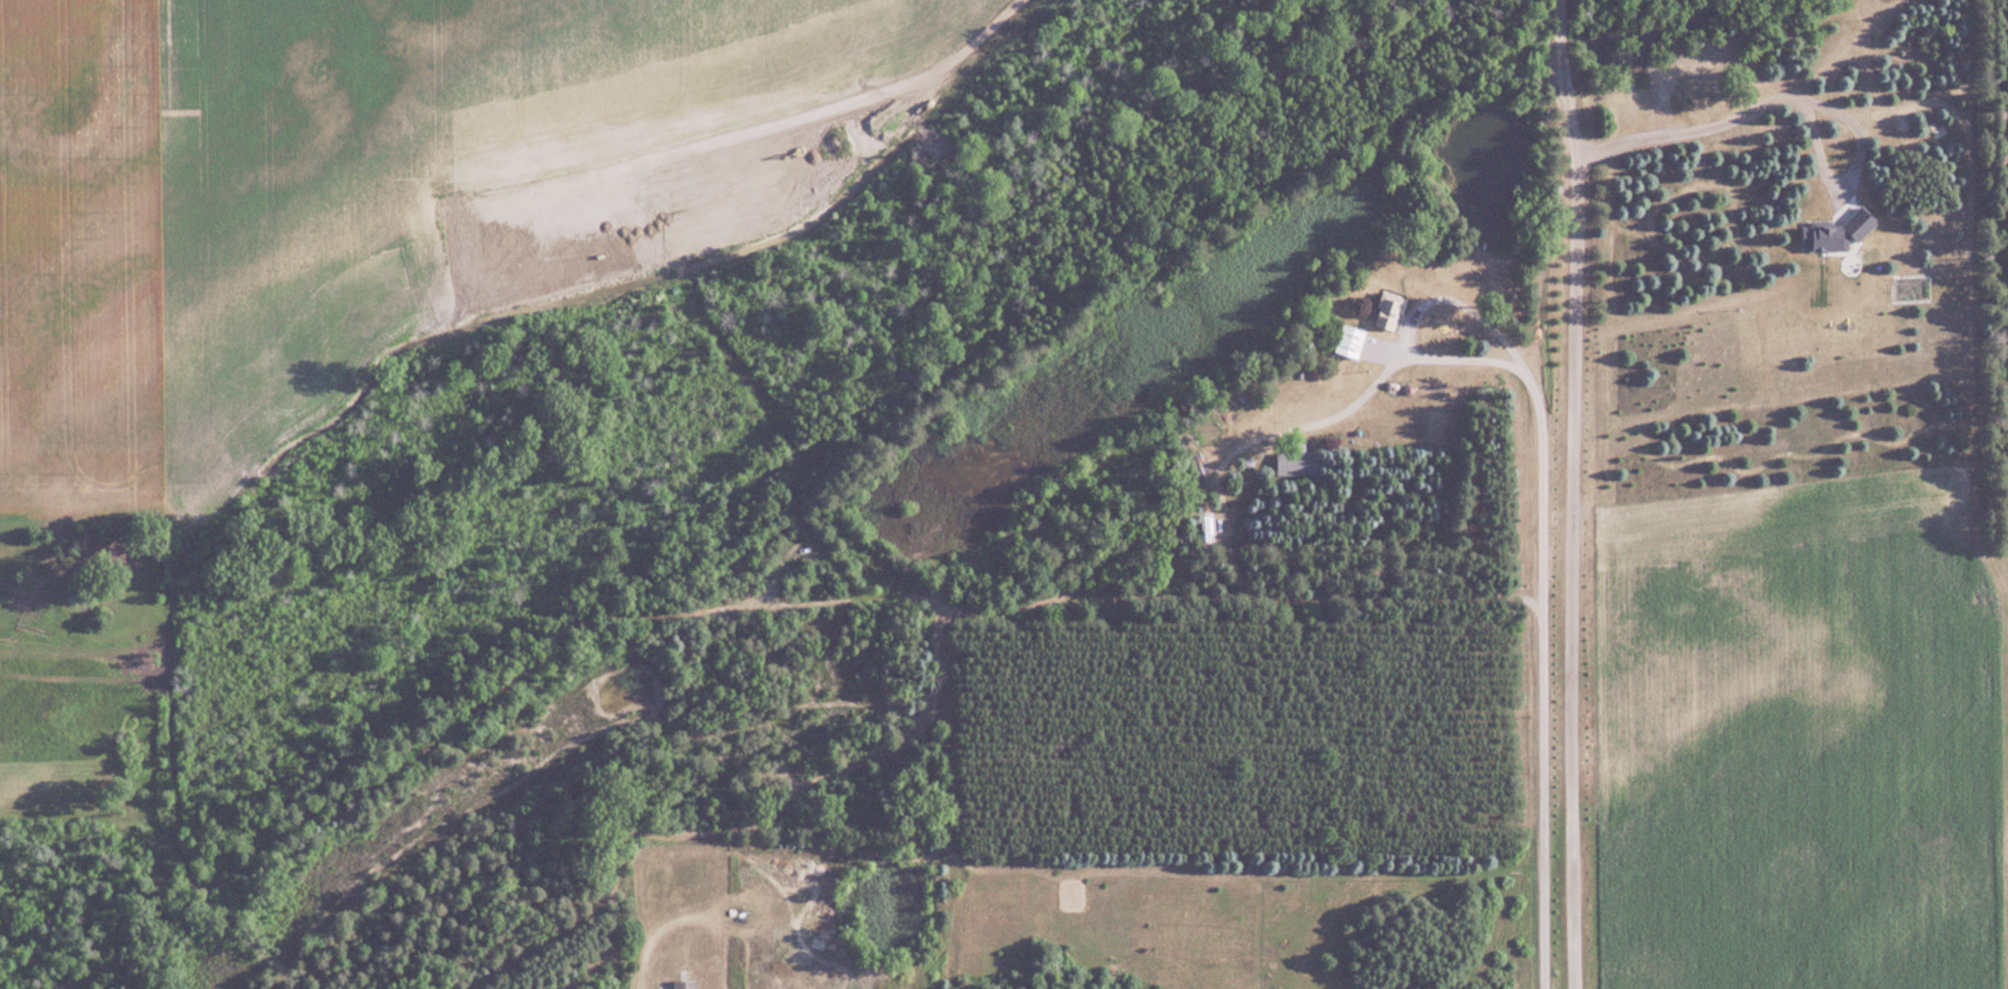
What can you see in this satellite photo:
road: (1851, 163)
building: (1388, 310)
building: (1350, 341)
road: (1572, 447)
building: (1295, 463)
road: (1539, 490)
building: (684, 985)

